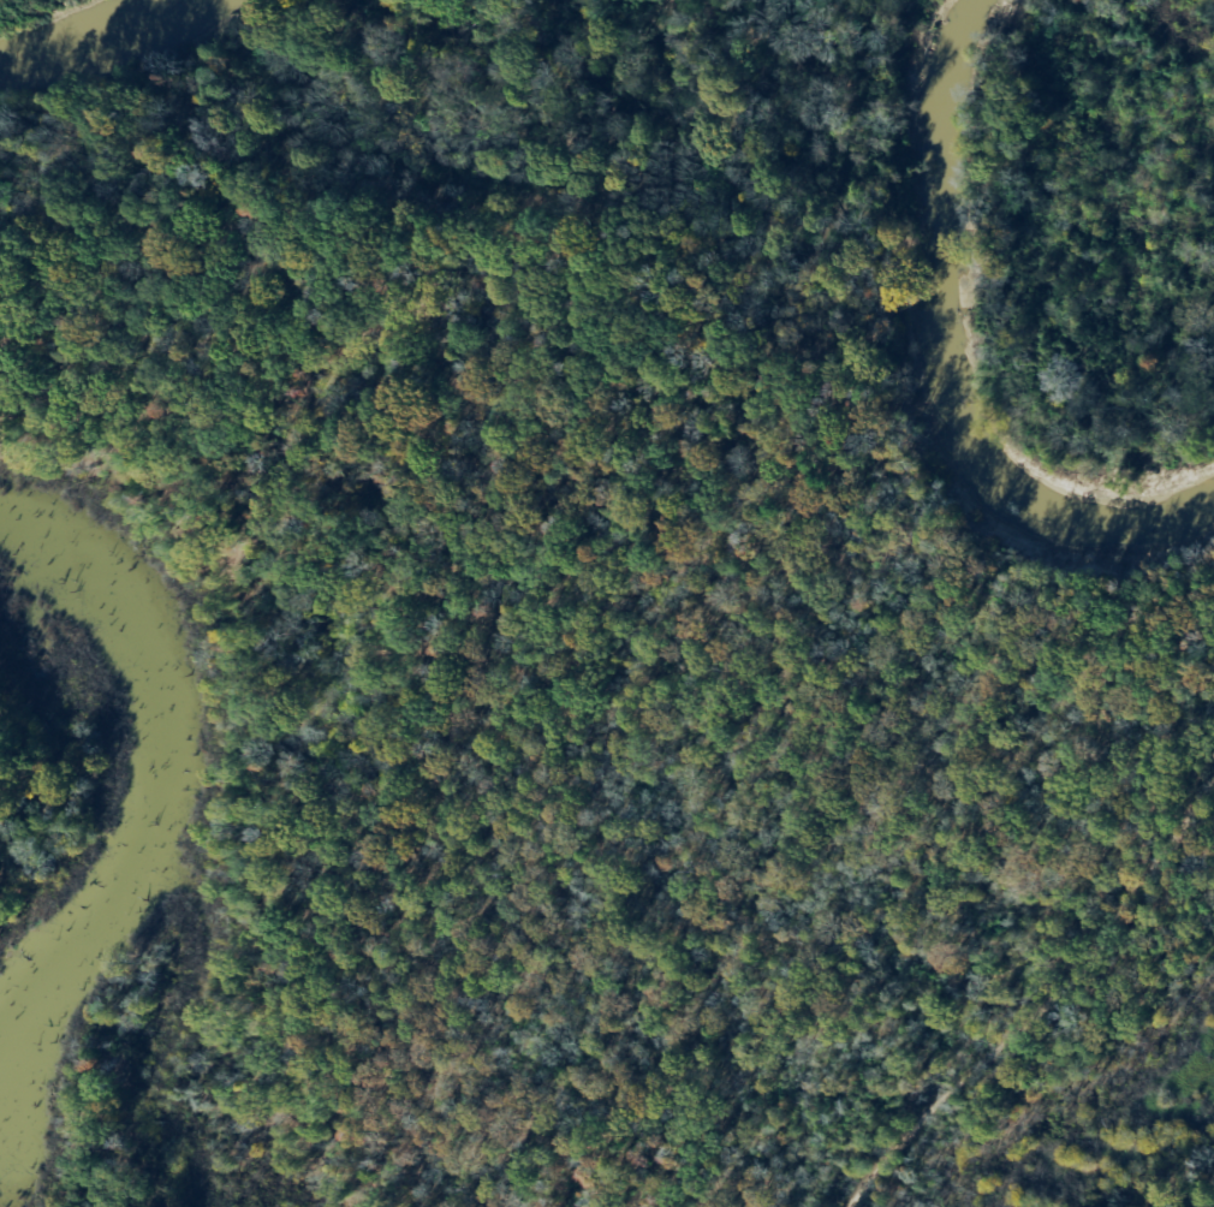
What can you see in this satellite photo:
river: (73, 37)
river: (933, 357)

